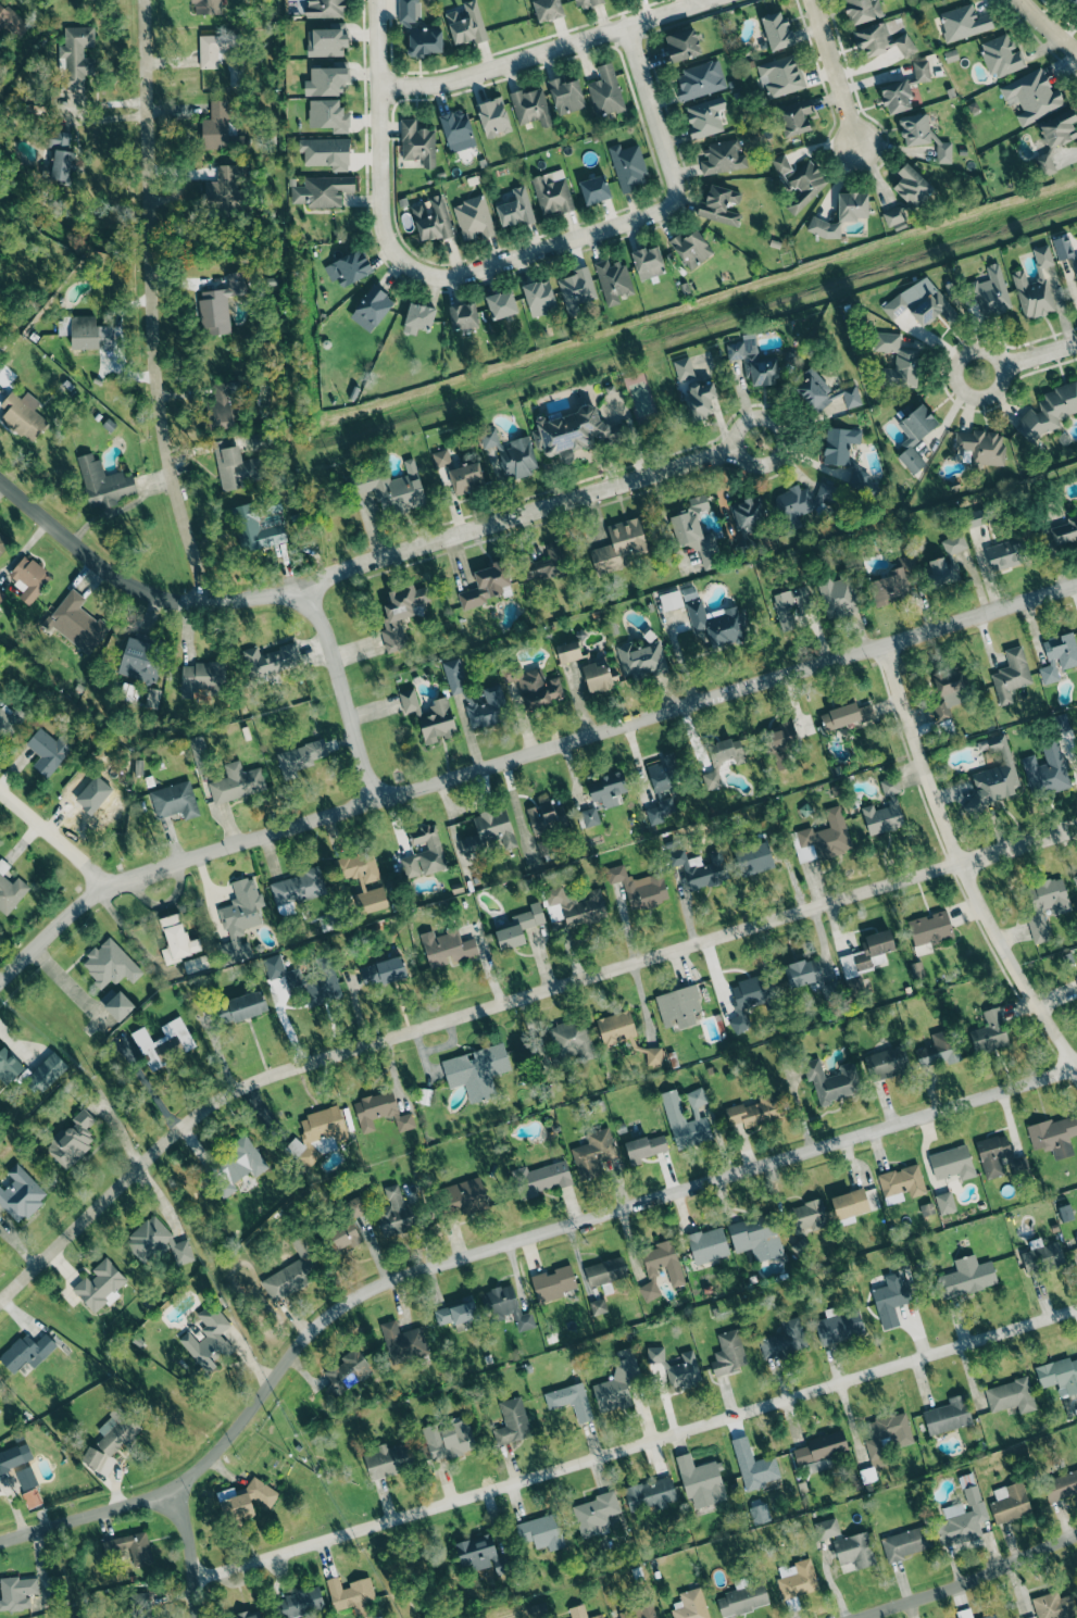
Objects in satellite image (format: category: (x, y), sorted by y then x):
building: (586, 2)
building: (1073, 2)
building: (206, 7)
building: (325, 9)
building: (547, 9)
building: (409, 10)
building: (862, 10)
building: (11, 22)
building: (964, 22)
building: (466, 24)
road: (1047, 27)
building: (777, 30)
building: (327, 40)
building: (881, 40)
building: (424, 41)
building: (681, 45)
building: (210, 50)
road: (544, 52)
building: (76, 55)
building: (1001, 55)
building: (921, 71)
road: (834, 73)
building: (780, 76)
building: (325, 80)
building: (700, 80)
building: (605, 91)
building: (565, 96)
building: (896, 96)
building: (1032, 96)
building: (530, 106)
road: (650, 112)
building: (328, 115)
building: (493, 116)
building: (794, 116)
building: (704, 117)
building: (215, 126)
building: (456, 129)
building: (1054, 137)
road: (380, 139)
building: (417, 143)
building: (325, 152)
building: (62, 158)
building: (723, 158)
building: (780, 164)
building: (627, 166)
building: (224, 185)
building: (804, 186)
building: (594, 189)
building: (322, 190)
building: (906, 196)
building: (721, 205)
building: (852, 205)
building: (515, 209)
building: (473, 218)
building: (431, 220)
building: (1062, 247)
building: (690, 248)
road: (544, 249)
building: (1042, 255)
building: (648, 262)
building: (349, 267)
building: (1076, 267)
building: (613, 280)
building: (576, 290)
building: (990, 292)
building: (1031, 296)
building: (539, 298)
road: (156, 304)
building: (218, 304)
building: (501, 304)
building: (896, 305)
building: (371, 309)
building: (930, 309)
building: (463, 316)
building: (417, 317)
building: (89, 333)
road: (1038, 354)
building: (898, 361)
building: (752, 362)
building: (682, 368)
road: (1000, 378)
building: (825, 390)
building: (700, 400)
building: (221, 405)
building: (1049, 412)
building: (22, 417)
road: (737, 429)
building: (571, 432)
building: (914, 436)
building: (981, 447)
building: (511, 453)
building: (844, 454)
building: (441, 459)
building: (235, 465)
building: (465, 477)
building: (103, 482)
building: (396, 490)
building: (802, 503)
road: (123, 506)
building: (747, 513)
road: (518, 514)
building: (975, 517)
building: (696, 532)
building: (1063, 532)
building: (3, 543)
building: (618, 547)
building: (1005, 554)
building: (947, 561)
building: (547, 563)
building: (29, 577)
building: (892, 582)
building: (486, 585)
road: (135, 589)
building: (1, 595)
building: (838, 597)
building: (671, 600)
building: (790, 606)
building: (400, 613)
building: (77, 624)
building: (716, 625)
building: (568, 652)
building: (140, 656)
building: (1059, 656)
building: (271, 660)
building: (640, 660)
building: (1011, 675)
building: (454, 676)
building: (202, 677)
building: (597, 677)
building: (536, 687)
building: (949, 688)
road: (343, 694)
building: (153, 698)
building: (488, 707)
building: (846, 715)
building: (430, 716)
building: (10, 717)
building: (1060, 723)
building: (779, 743)
building: (48, 751)
building: (200, 754)
building: (300, 757)
building: (722, 760)
road: (522, 761)
building: (1045, 769)
building: (664, 774)
building: (993, 776)
building: (236, 782)
building: (606, 789)
building: (93, 800)
building: (174, 801)
building: (885, 810)
building: (660, 811)
building: (546, 816)
building: (588, 817)
building: (486, 833)
building: (824, 837)
road: (51, 851)
building: (424, 853)
building: (753, 858)
road: (959, 867)
building: (700, 868)
building: (364, 880)
building: (1075, 880)
building: (297, 887)
building: (639, 887)
building: (10, 891)
building: (1045, 905)
building: (577, 906)
building: (239, 919)
building: (518, 927)
building: (930, 928)
building: (177, 940)
building: (446, 946)
building: (867, 953)
building: (110, 964)
building: (196, 964)
building: (916, 970)
building: (383, 971)
building: (1076, 979)
building: (302, 981)
building: (749, 996)
building: (116, 1004)
road: (503, 1004)
building: (243, 1006)
building: (678, 1006)
building: (616, 1028)
building: (989, 1032)
building: (574, 1039)
building: (164, 1042)
building: (937, 1049)
building: (653, 1056)
building: (887, 1063)
building: (9, 1066)
building: (476, 1070)
building: (46, 1073)
building: (831, 1080)
building: (755, 1111)
building: (379, 1112)
building: (675, 1118)
building: (318, 1133)
building: (1053, 1136)
building: (72, 1140)
building: (646, 1146)
building: (998, 1156)
building: (952, 1163)
building: (237, 1166)
building: (541, 1178)
building: (902, 1181)
building: (21, 1194)
building: (465, 1196)
building: (944, 1202)
building: (850, 1203)
building: (356, 1206)
building: (926, 1208)
building: (395, 1213)
building: (1064, 1213)
building: (806, 1216)
building: (345, 1236)
building: (755, 1237)
building: (1075, 1239)
building: (156, 1242)
building: (707, 1244)
road: (501, 1247)
building: (1041, 1256)
building: (293, 1270)
building: (605, 1271)
building: (675, 1276)
building: (966, 1277)
building: (553, 1283)
building: (100, 1285)
building: (891, 1300)
building: (509, 1306)
building: (598, 1306)
building: (458, 1314)
building: (839, 1327)
building: (208, 1338)
building: (784, 1339)
building: (403, 1340)
building: (26, 1352)
building: (728, 1352)
building: (655, 1354)
building: (346, 1370)
building: (684, 1370)
building: (1059, 1376)
building: (617, 1382)
building: (1011, 1395)
building: (571, 1401)
building: (948, 1415)
building: (512, 1421)
building: (887, 1437)
building: (448, 1439)
building: (111, 1441)
road: (633, 1444)
building: (821, 1446)
building: (15, 1457)
building: (386, 1459)
building: (818, 1465)
building: (755, 1469)
building: (28, 1477)
building: (700, 1482)
building: (1061, 1485)
building: (650, 1493)
building: (972, 1494)
building: (32, 1497)
building: (248, 1498)
building: (1010, 1503)
building: (594, 1513)
building: (760, 1514)
building: (957, 1525)
building: (827, 1528)
building: (541, 1532)
building: (905, 1543)
building: (135, 1547)
building: (854, 1550)
road: (187, 1553)
building: (481, 1554)
building: (797, 1580)
road: (965, 1582)
building: (16, 1592)
building: (350, 1594)
building: (742, 1600)
building: (140, 1601)
building: (300, 1603)
building: (690, 1605)
building: (1053, 1606)
building: (580, 1613)
building: (640, 1613)
building: (247, 1614)
building: (990, 1616)

